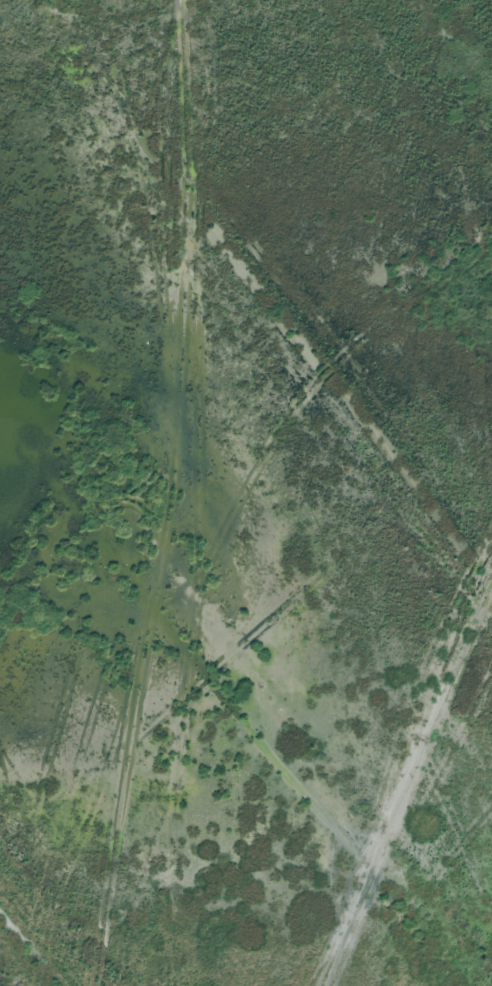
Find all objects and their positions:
landfill: (246, 493)

